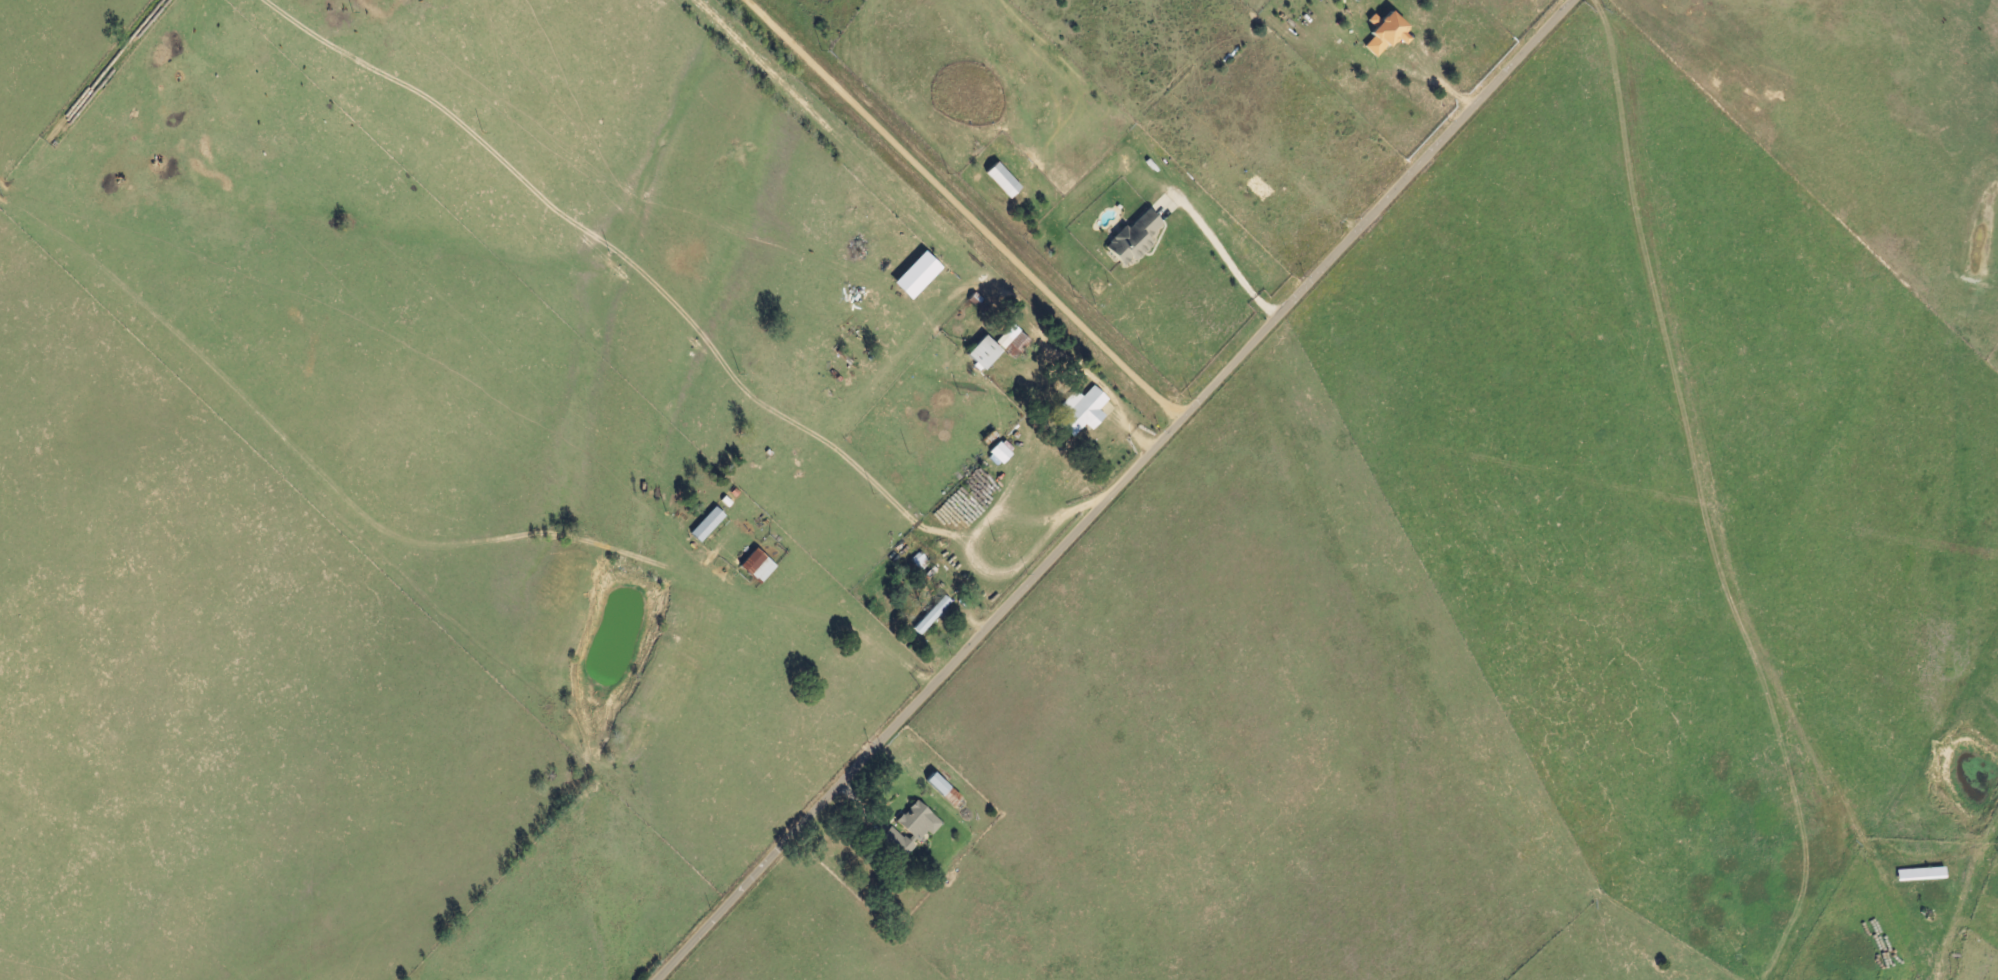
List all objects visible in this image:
building: (1386, 35)
road: (1439, 86)
building: (1004, 181)
road: (960, 211)
building: (1134, 239)
road: (1225, 260)
building: (918, 276)
building: (1014, 342)
building: (985, 353)
building: (1084, 412)
building: (1002, 452)
road: (1114, 491)
building: (708, 526)
building: (759, 567)
building: (933, 615)
building: (939, 785)
building: (913, 829)

